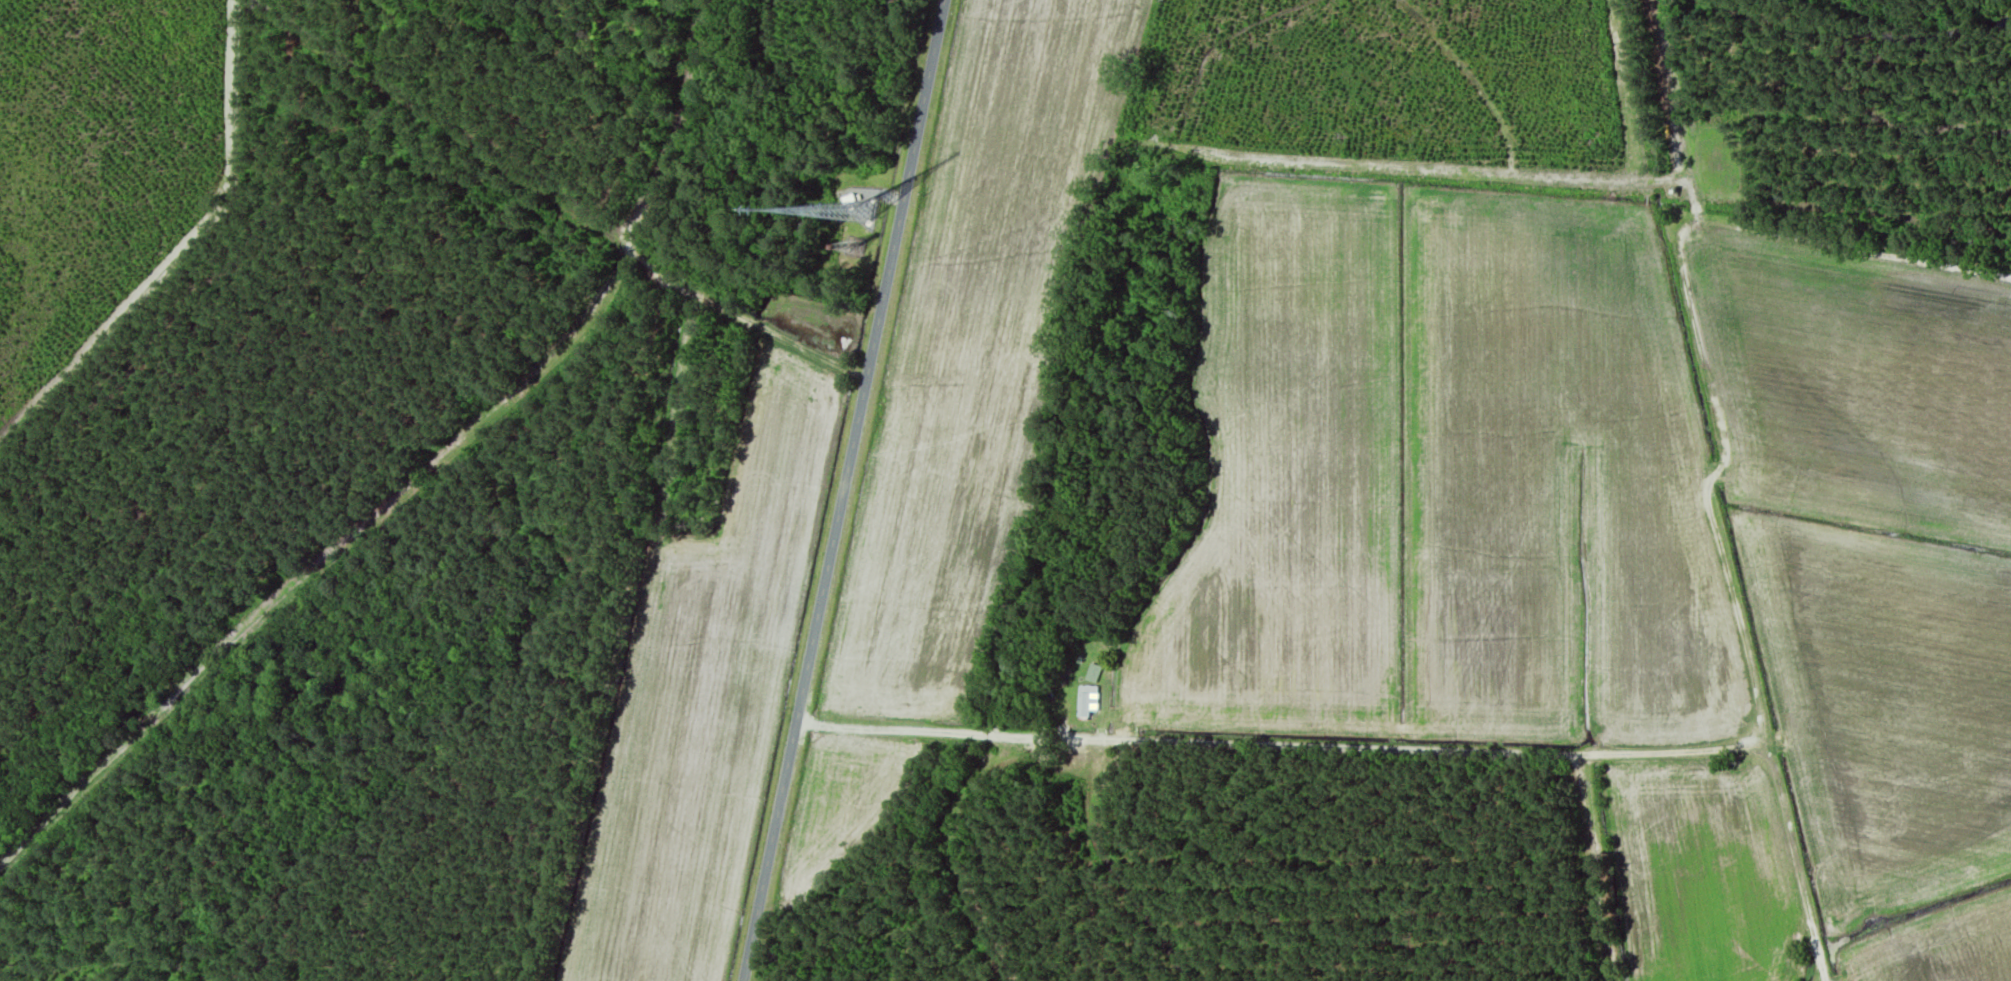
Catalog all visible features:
road: (1214, 42)
road: (1467, 74)
road: (1666, 89)
road: (1630, 138)
road: (1375, 153)
road: (1699, 334)
road: (1061, 367)
road: (846, 490)
building: (1093, 675)
building: (1087, 704)
road: (1399, 747)
road: (1588, 867)

